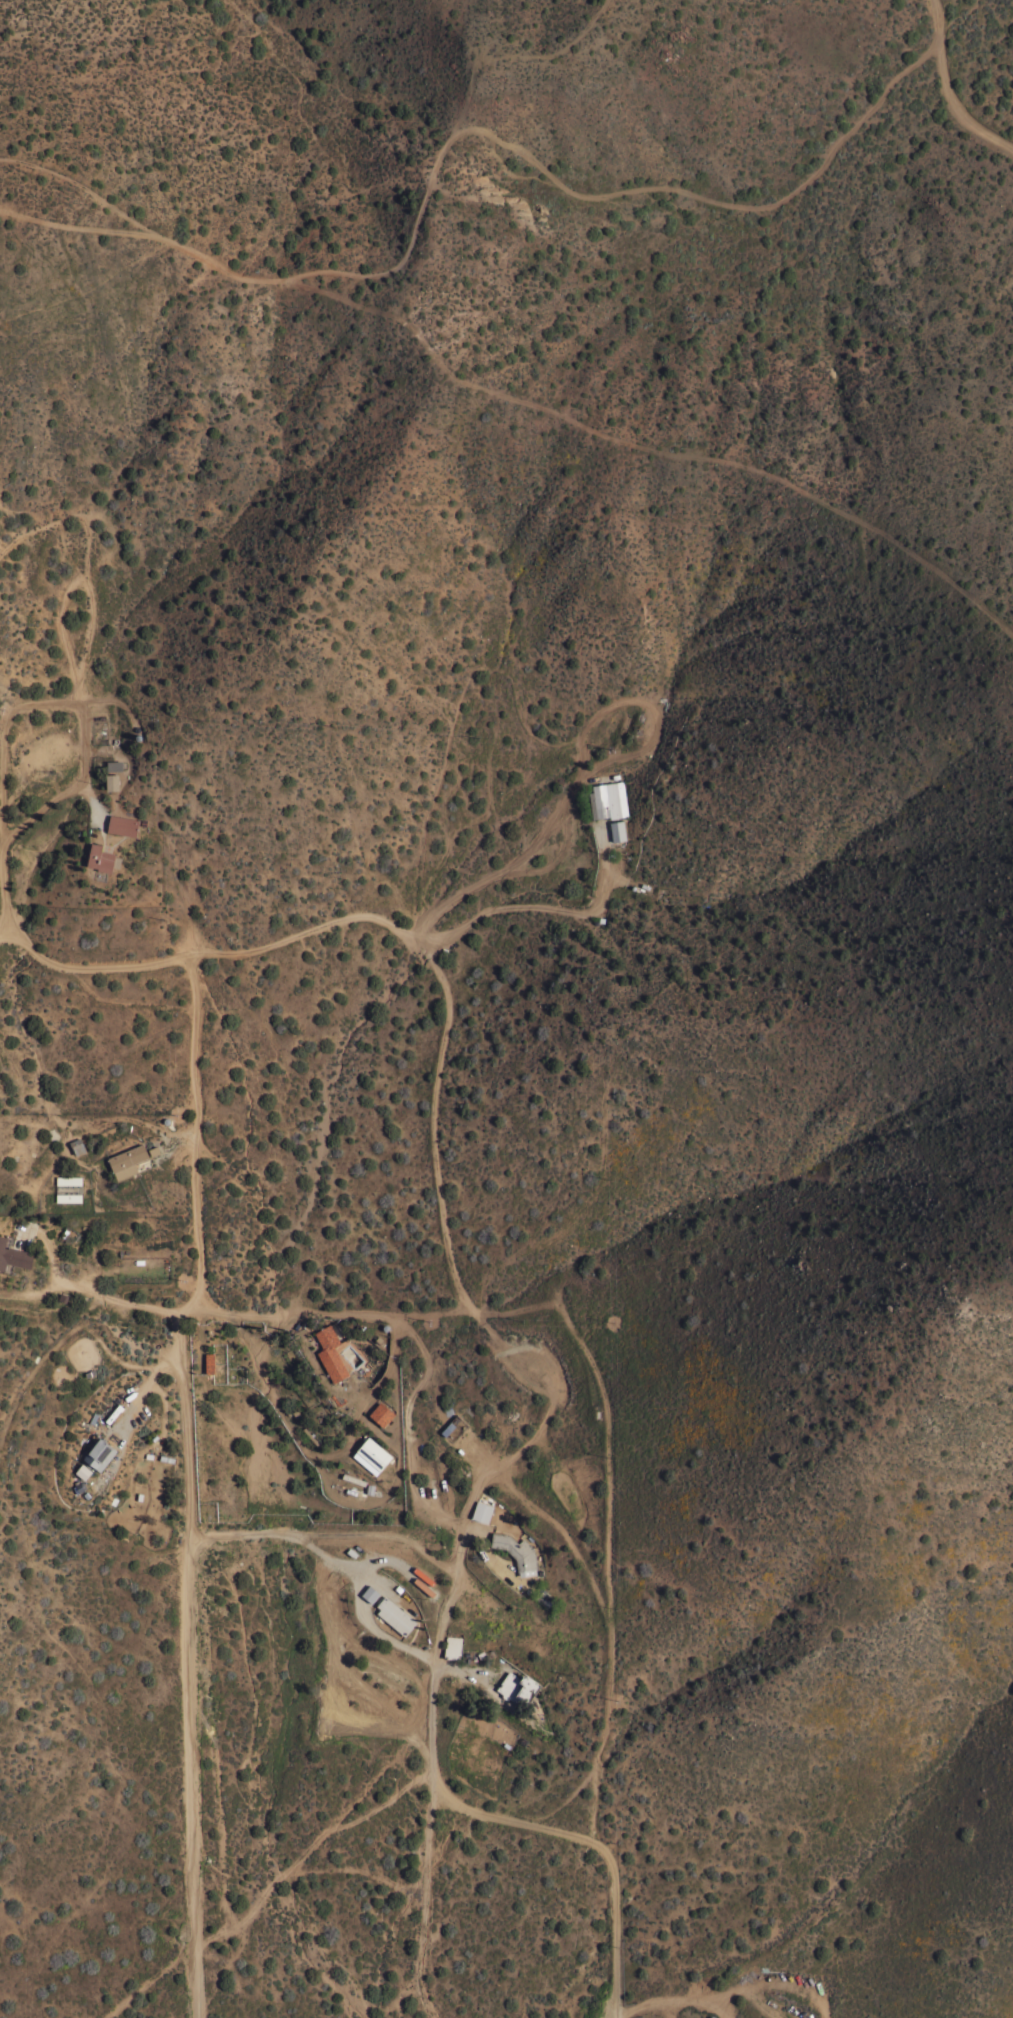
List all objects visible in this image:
road: (947, 91)
road: (88, 727)
road: (568, 743)
building: (113, 765)
building: (111, 781)
building: (608, 800)
building: (123, 825)
building: (617, 830)
building: (100, 858)
road: (532, 907)
road: (212, 954)
building: (77, 1145)
building: (127, 1160)
building: (68, 1180)
building: (68, 1197)
road: (442, 1219)
building: (13, 1255)
road: (121, 1296)
road: (328, 1314)
building: (330, 1352)
building: (209, 1362)
road: (140, 1391)
building: (381, 1414)
building: (99, 1453)
building: (371, 1455)
road: (187, 1482)
building: (481, 1511)
road: (328, 1530)
building: (516, 1552)
building: (371, 1593)
road: (446, 1600)
building: (394, 1615)
road: (379, 1635)
building: (452, 1647)
road: (461, 1667)
building: (517, 1687)
road: (593, 1841)
road: (423, 1895)

